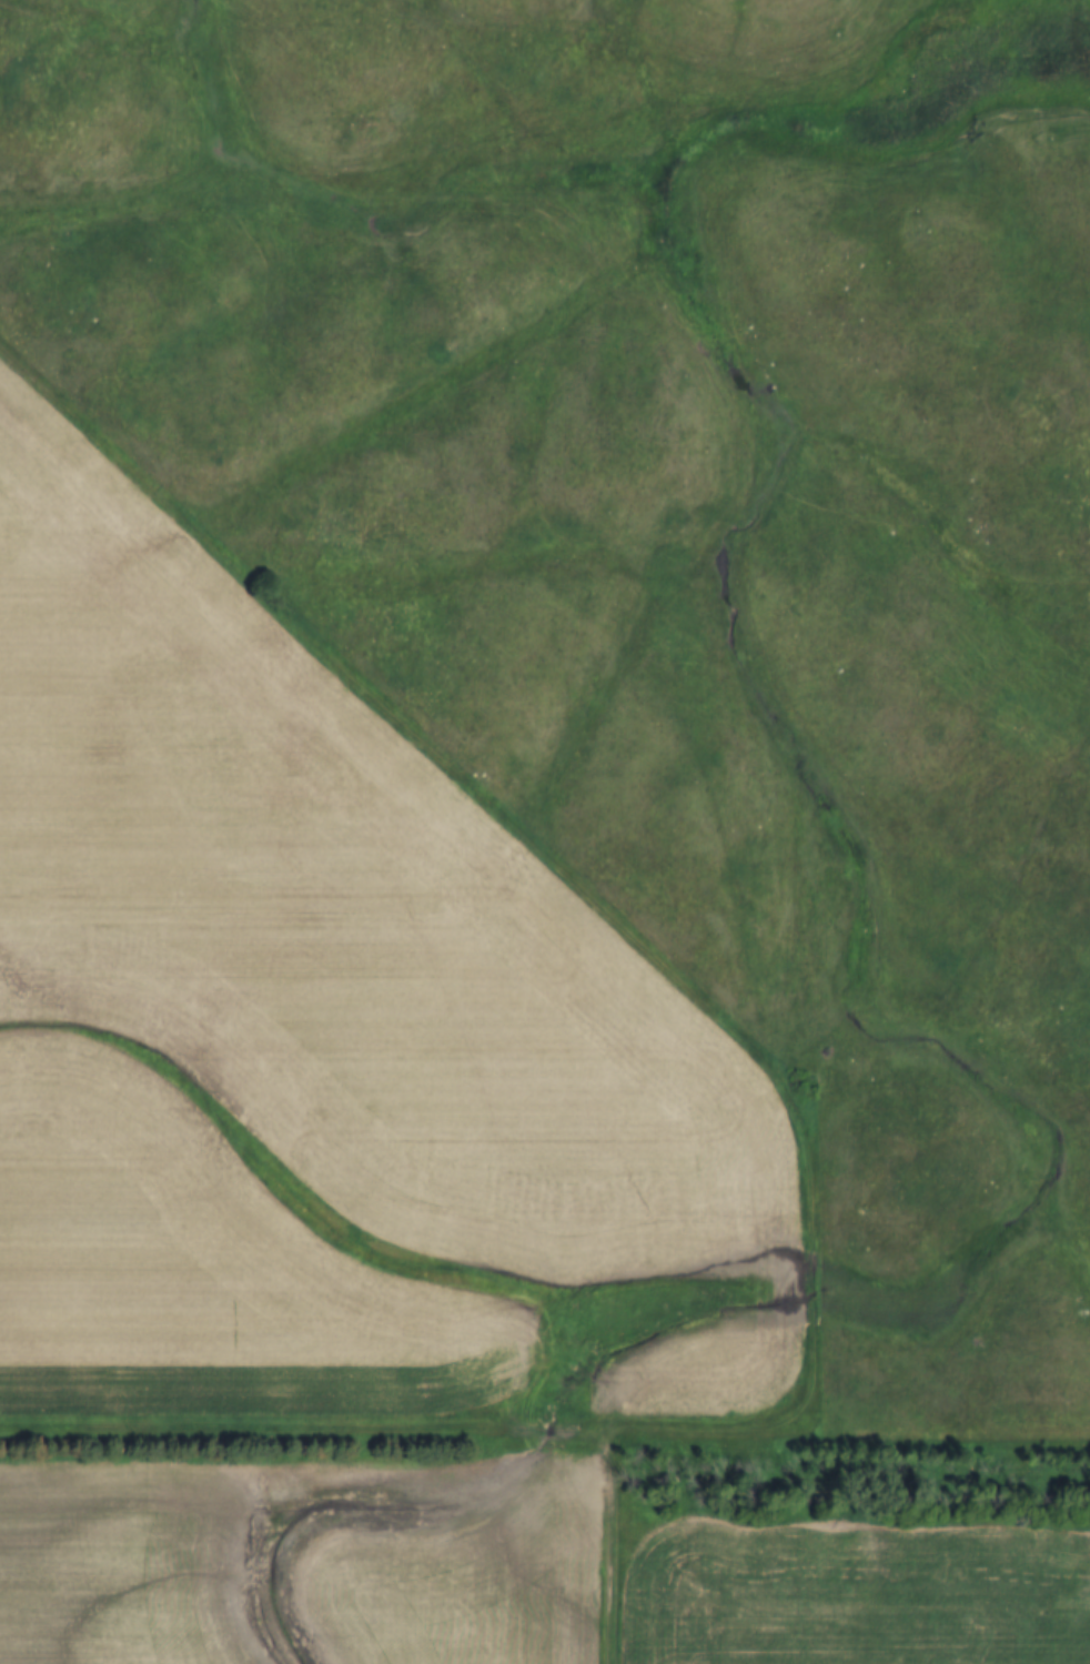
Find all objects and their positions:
road: (295, 1463)
road: (595, 1560)

